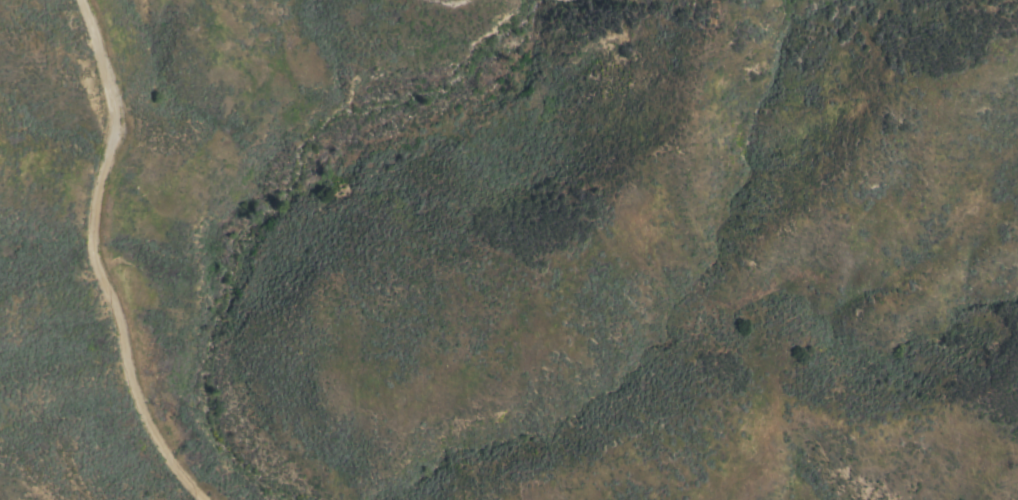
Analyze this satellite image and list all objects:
road: (86, 259)
park: (396, 281)

